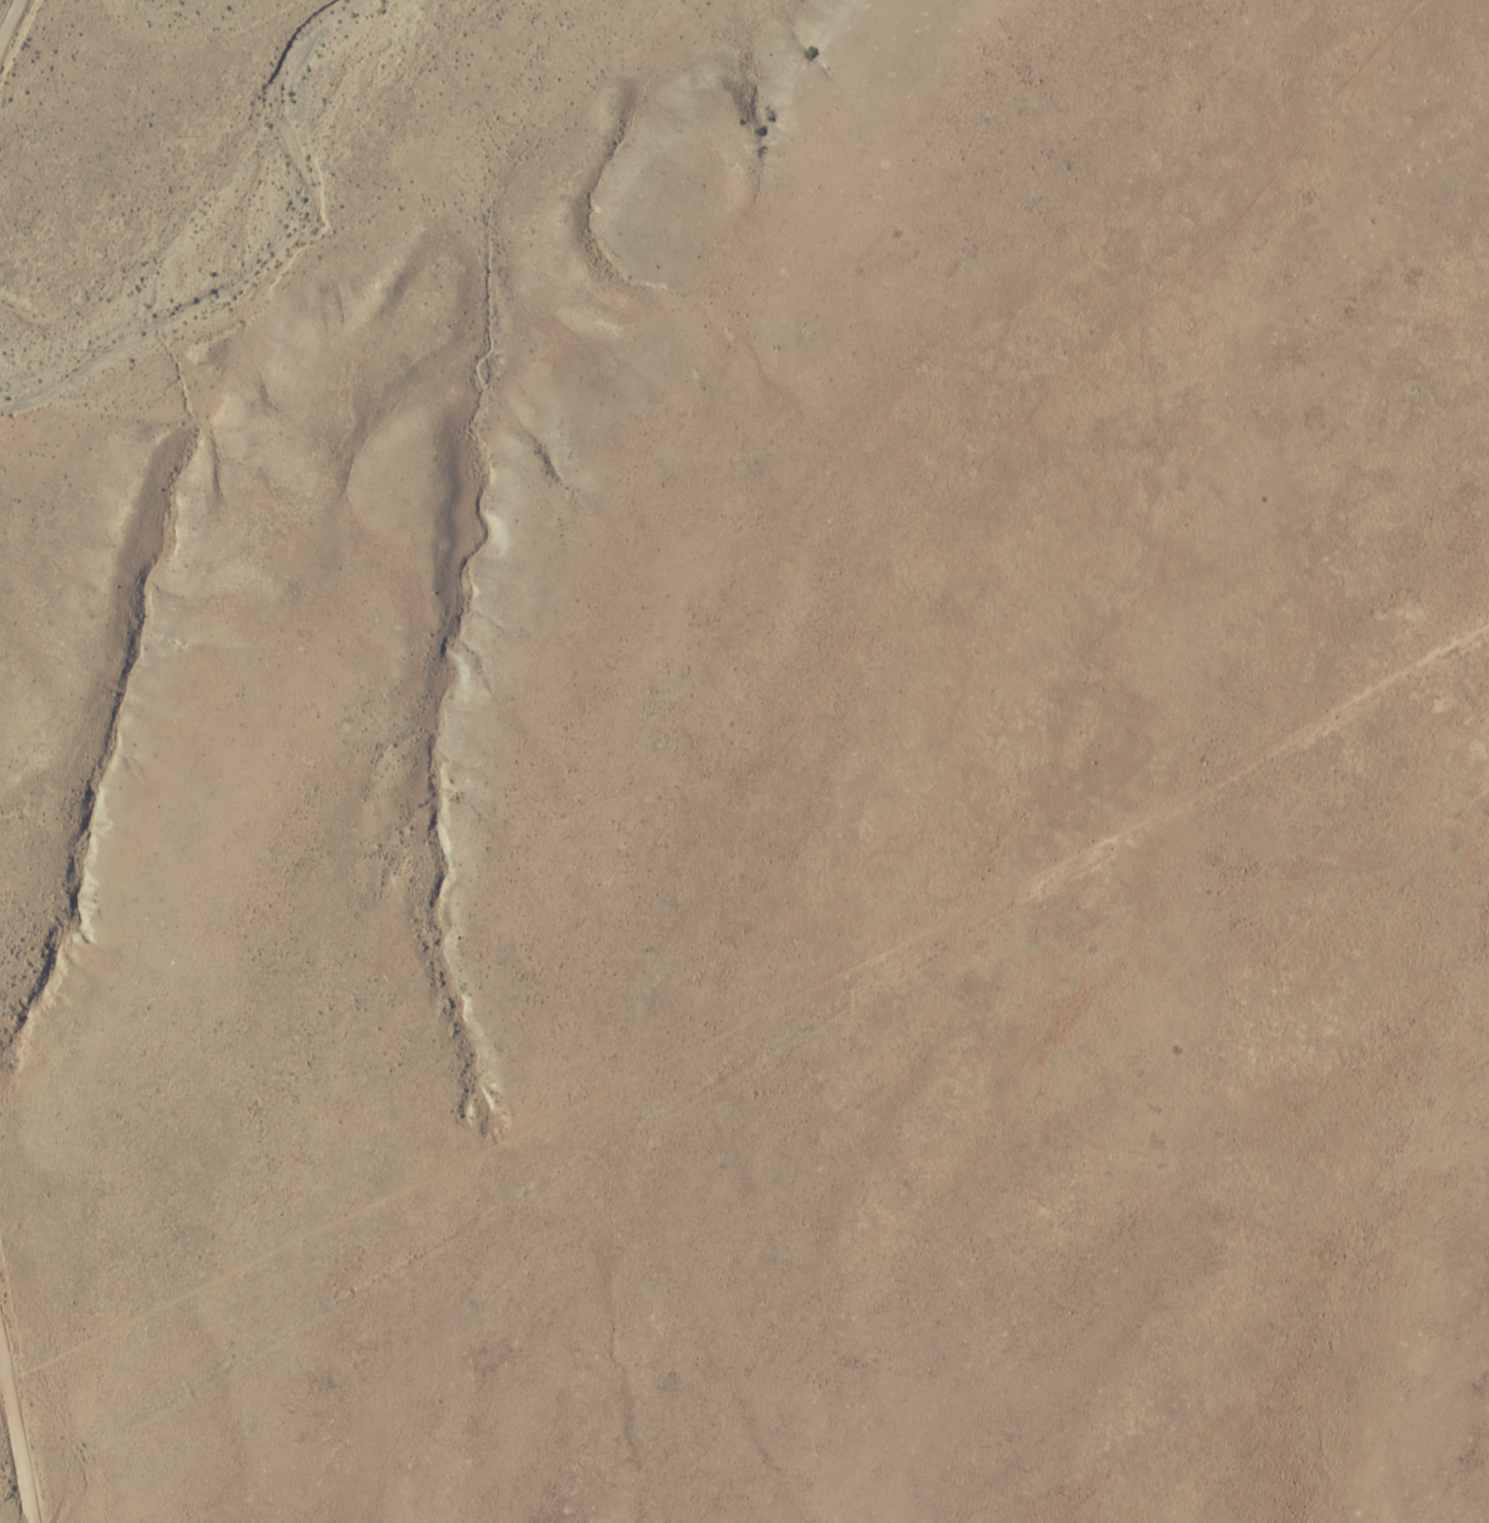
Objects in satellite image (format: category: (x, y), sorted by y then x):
road: (9, 20)
river: (252, 259)
road: (3, 1377)
road: (17, 1430)

